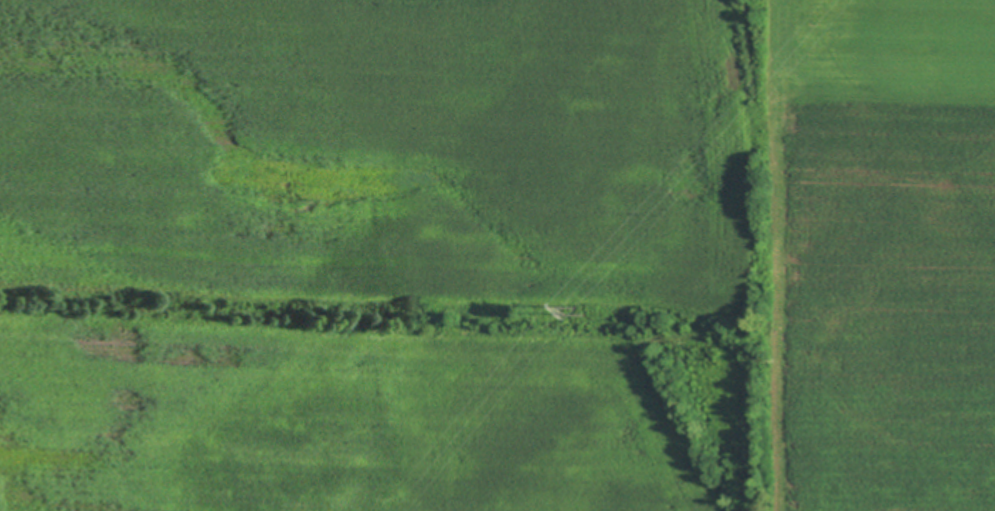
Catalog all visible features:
power tower: (572, 318)

